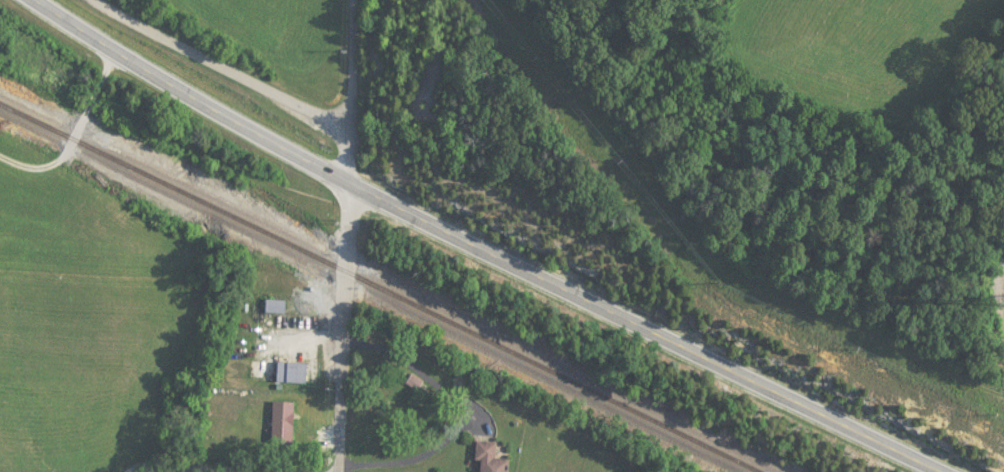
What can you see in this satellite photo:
road: (219, 68)
road: (345, 235)
road: (483, 249)
railway: (374, 285)
building: (273, 306)
building: (290, 373)
building: (413, 383)
building: (281, 424)
building: (487, 458)
road: (162, 470)

